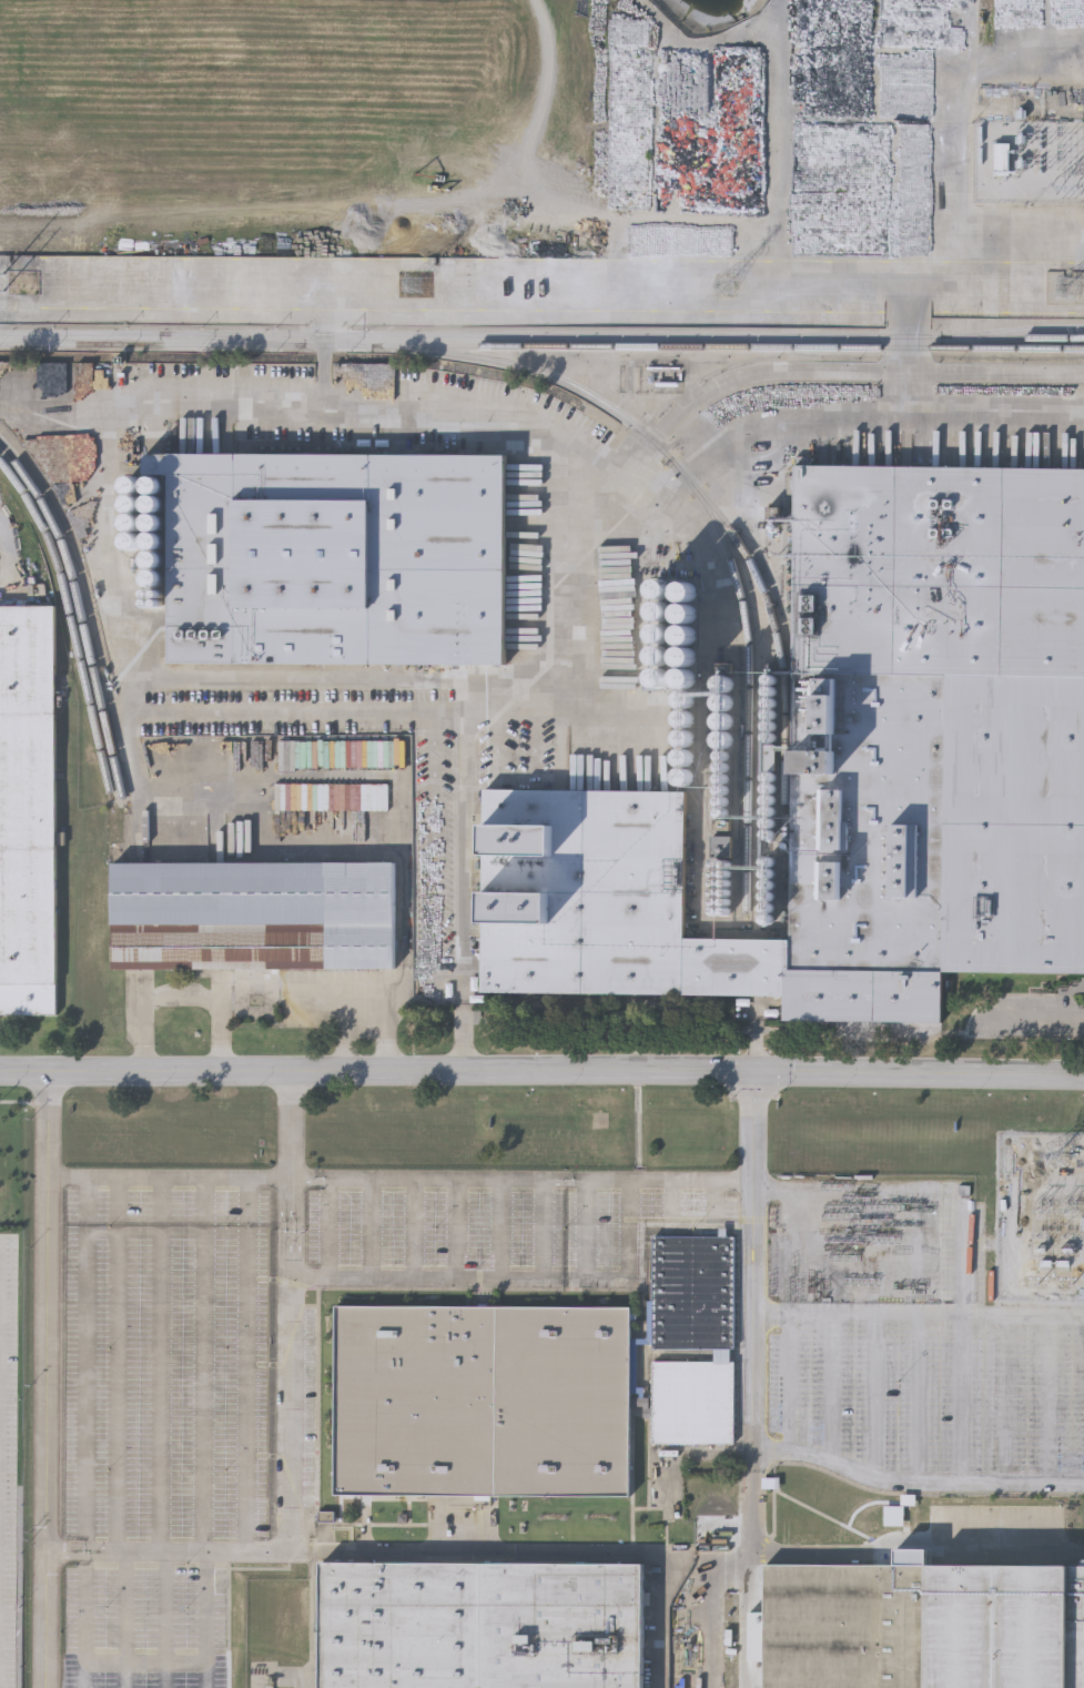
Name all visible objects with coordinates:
building: (1006, 159)
power tower: (28, 285)
power tower: (421, 287)
power tower: (1072, 289)
power tower: (729, 290)
railway: (1015, 328)
railway: (541, 333)
railway: (226, 338)
railway: (995, 343)
railway: (732, 346)
railway: (590, 395)
road: (580, 544)
building: (338, 558)
railway: (82, 611)
railway: (72, 618)
railway: (751, 687)
building: (857, 771)
building: (26, 808)
building: (730, 878)
building: (254, 916)
road: (369, 985)
road: (182, 999)
road: (1054, 1017)
road: (590, 1069)
traffic signals: (758, 1069)
road: (48, 1070)
road: (296, 1126)
road: (174, 1180)
road: (526, 1183)
power substation: (1050, 1210)
road: (330, 1230)
road: (372, 1231)
road: (414, 1231)
road: (457, 1231)
road: (499, 1231)
road: (468, 1278)
road: (566, 1278)
road: (610, 1278)
road: (920, 1316)
building: (692, 1340)
road: (757, 1378)
road: (53, 1379)
road: (791, 1383)
road: (89, 1388)
road: (832, 1388)
road: (116, 1393)
road: (160, 1393)
road: (206, 1394)
road: (247, 1394)
road: (875, 1396)
road: (920, 1399)
road: (962, 1399)
road: (1005, 1399)
road: (1052, 1399)
building: (484, 1401)
road: (296, 1465)
road: (916, 1482)
building: (896, 1517)
road: (79, 1545)
road: (579, 1550)
road: (920, 1553)
road: (79, 1558)
road: (699, 1608)
road: (125, 1619)
road: (205, 1620)
road: (84, 1623)
building: (924, 1624)
building: (482, 1625)

